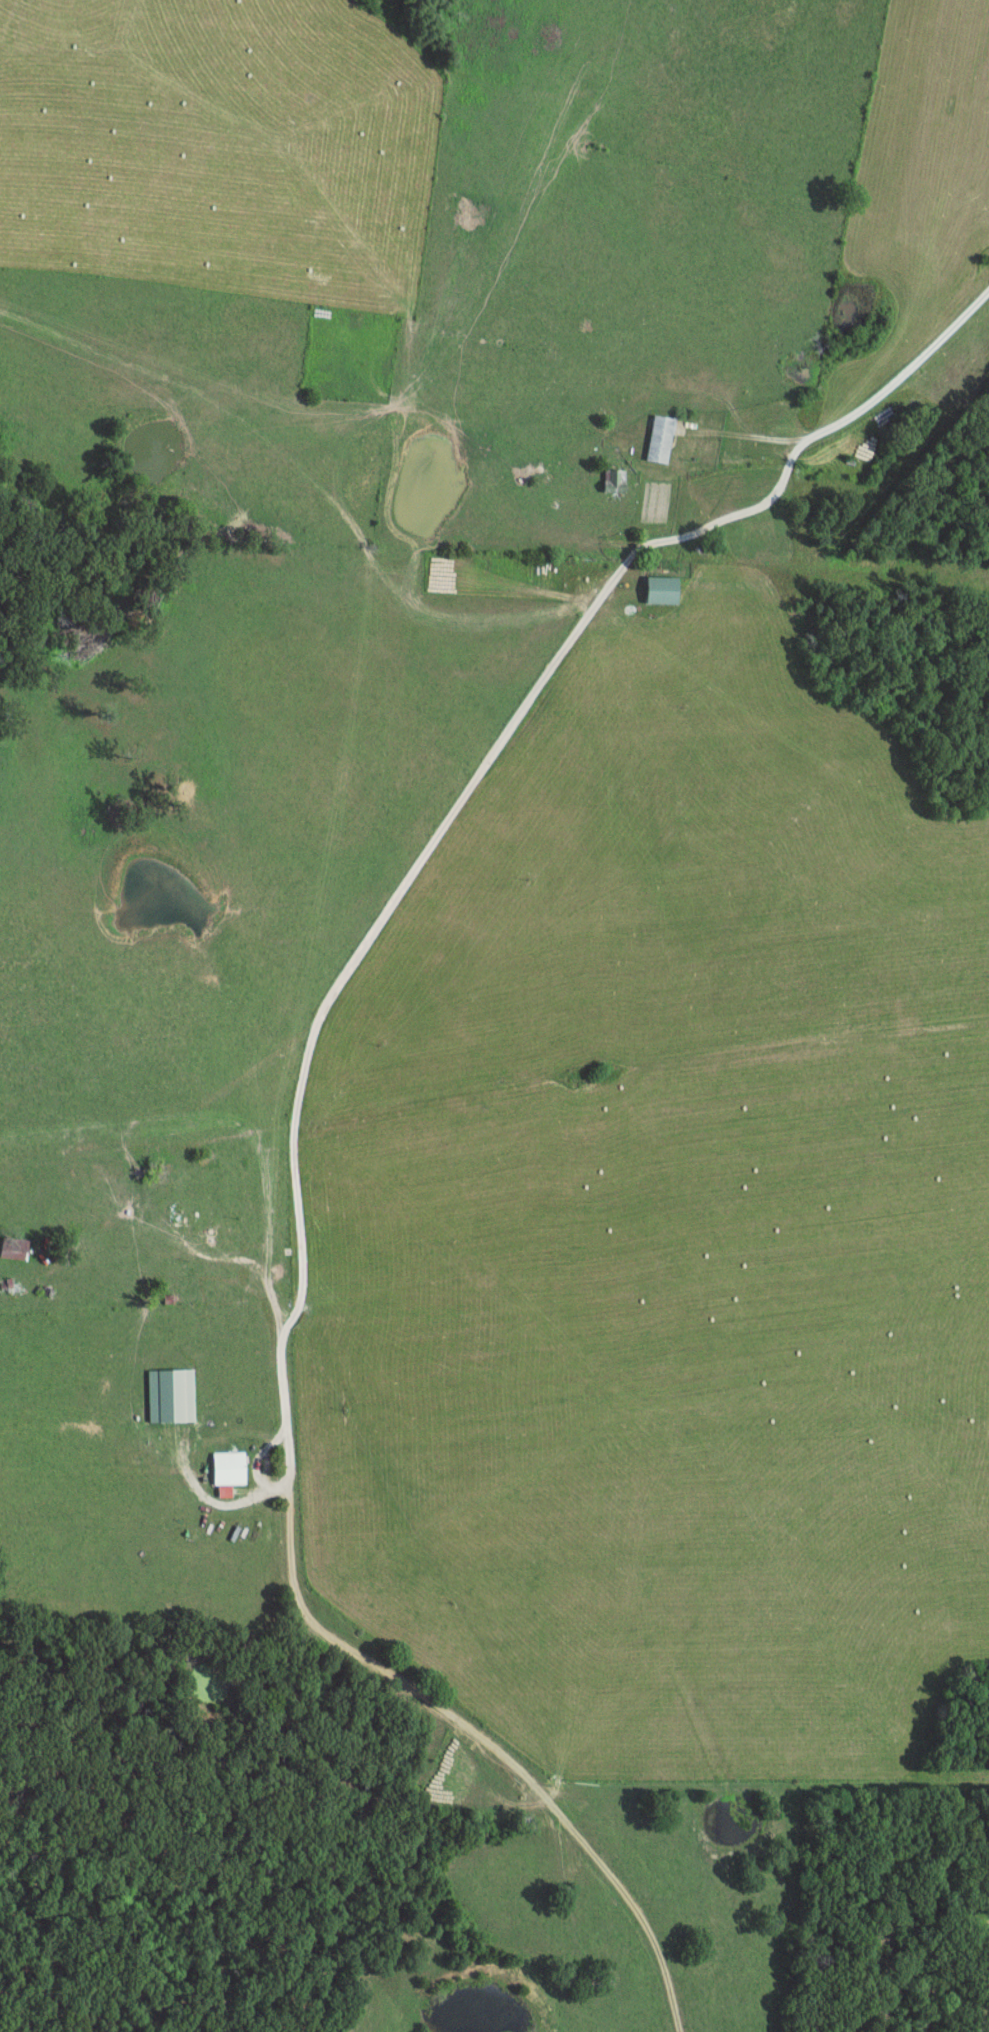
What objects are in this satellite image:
road: (854, 411)
building: (658, 438)
building: (536, 567)
building: (663, 592)
building: (174, 1213)
road: (300, 1222)
building: (17, 1249)
building: (16, 1289)
building: (231, 1469)
road: (976, 2018)

